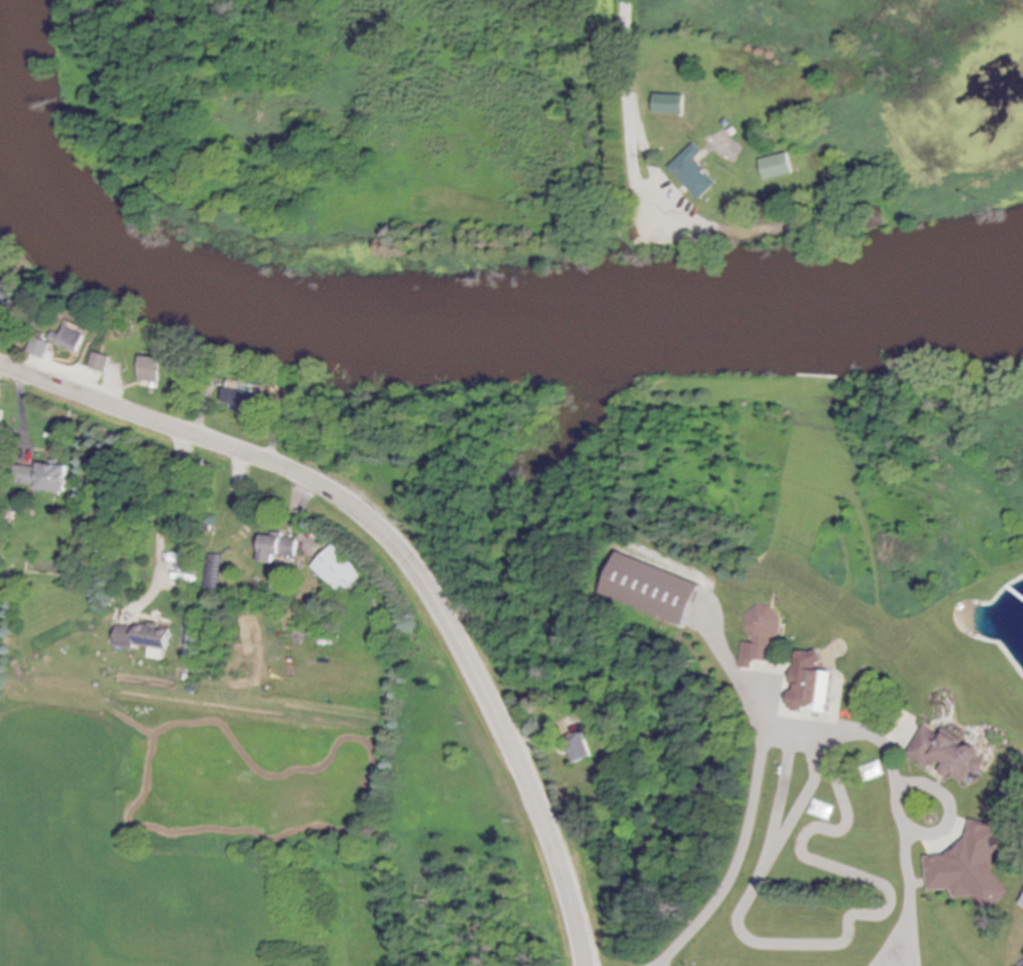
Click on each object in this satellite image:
road: (627, 44)
building: (671, 106)
building: (777, 168)
building: (694, 175)
road: (654, 199)
building: (10, 294)
river: (469, 333)
building: (69, 340)
building: (43, 348)
building: (103, 363)
building: (152, 370)
building: (244, 402)
road: (26, 409)
building: (1, 425)
building: (0, 461)
building: (49, 478)
road: (299, 512)
road: (163, 520)
building: (279, 550)
road: (407, 552)
building: (45, 567)
building: (341, 572)
building: (660, 591)
building: (761, 637)
building: (148, 641)
building: (814, 685)
road: (529, 740)
building: (581, 749)
building: (951, 756)
road: (758, 780)
road: (942, 787)
building: (973, 869)
road: (913, 906)
road: (917, 937)
road: (1021, 964)

